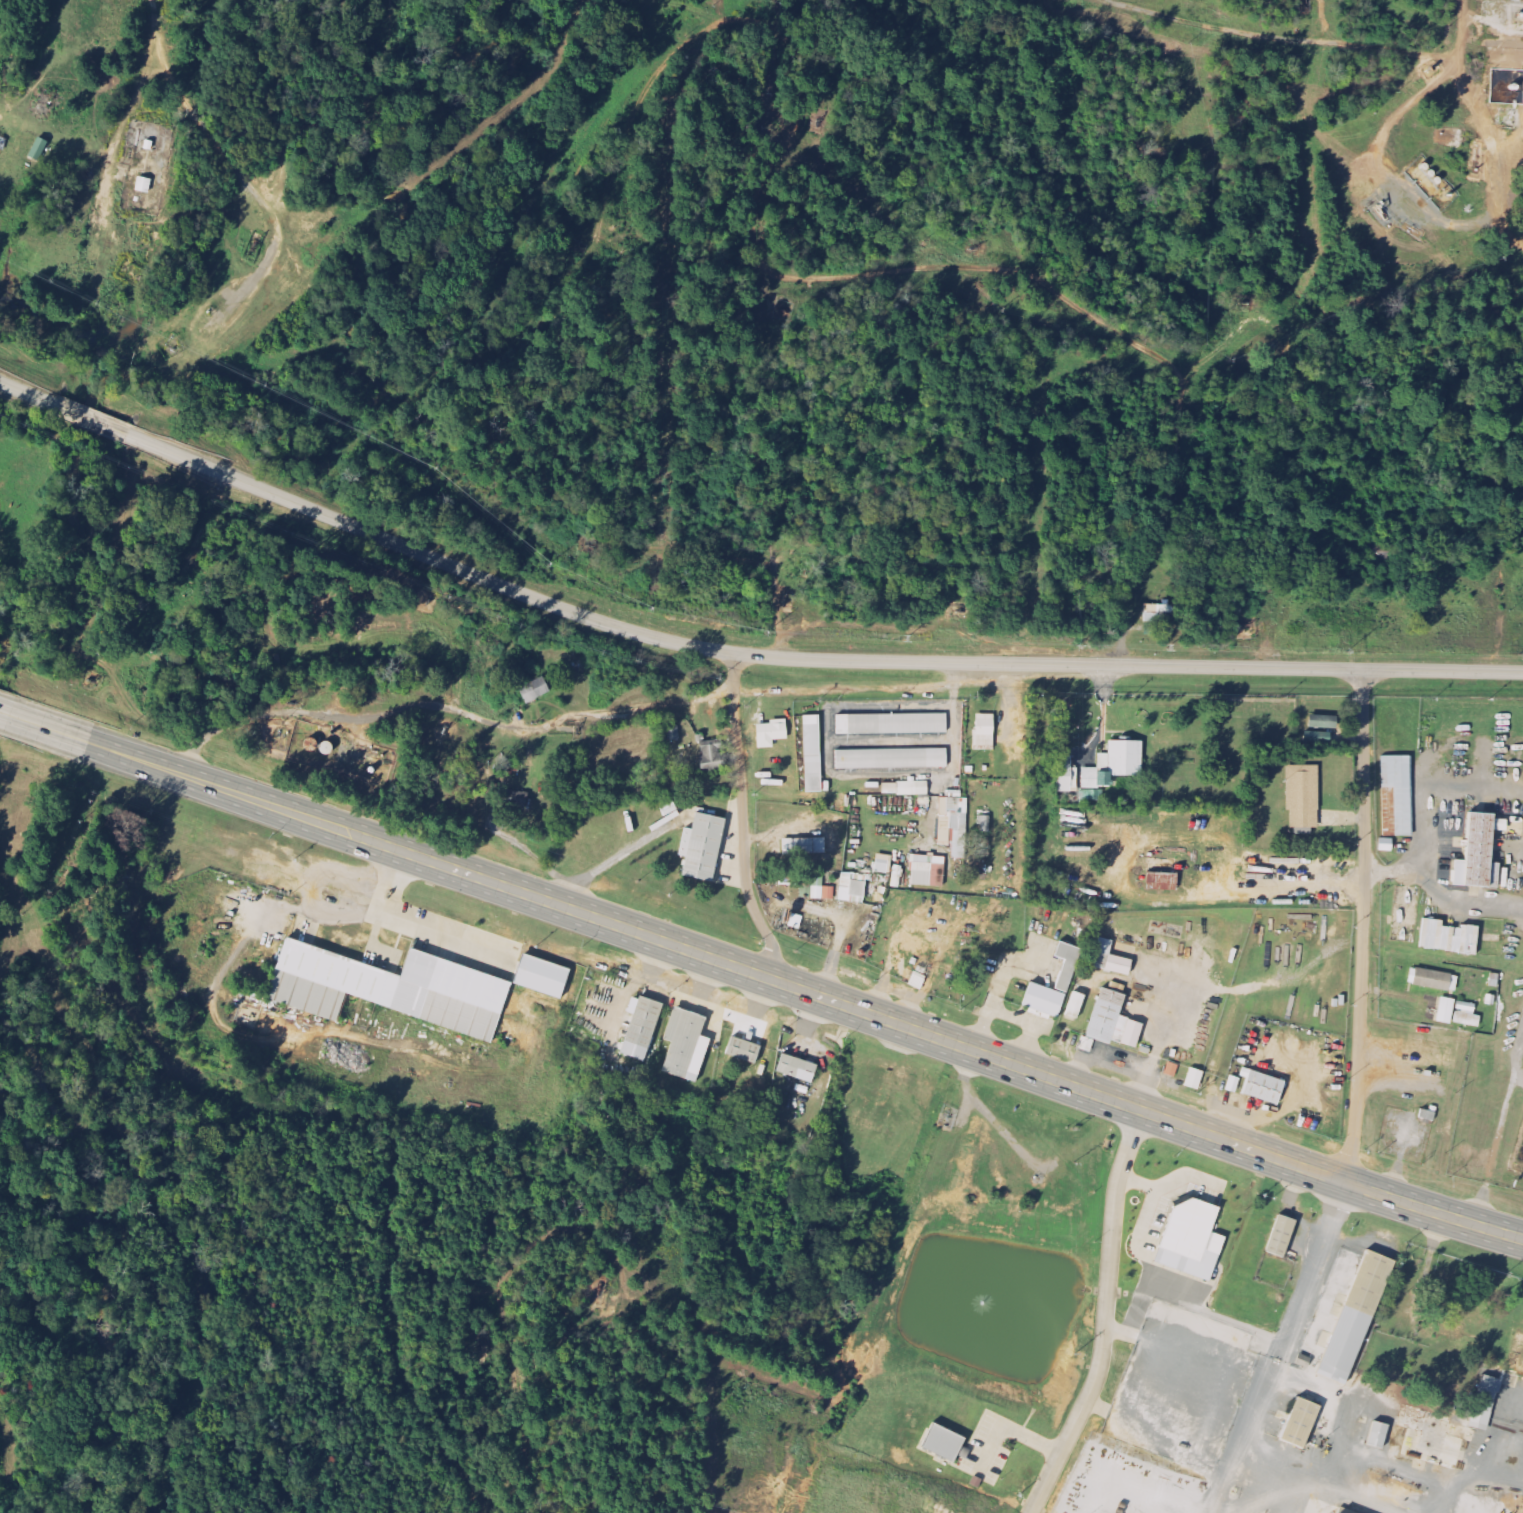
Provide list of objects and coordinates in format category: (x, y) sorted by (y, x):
road: (687, 8)
road: (1320, 21)
road: (1272, 39)
road: (1485, 125)
road: (232, 169)
building: (144, 186)
road: (837, 277)
power tower: (100, 303)
road: (1282, 331)
road: (35, 396)
road: (100, 422)
power tower: (442, 468)
road: (223, 473)
power tower: (554, 565)
power tower: (657, 610)
building: (1158, 616)
power tower: (779, 636)
power tower: (1090, 648)
power tower: (1350, 654)
road: (907, 662)
building: (536, 690)
road: (442, 706)
road: (5, 716)
building: (1324, 722)
building: (892, 724)
building: (985, 731)
building: (772, 733)
road: (1457, 744)
building: (814, 753)
building: (712, 754)
building: (893, 758)
building: (1116, 764)
building: (1064, 774)
road: (185, 777)
building: (906, 788)
building: (1396, 795)
building: (1304, 796)
building: (519, 798)
road: (742, 821)
building: (954, 825)
road: (1423, 839)
building: (805, 846)
building: (700, 847)
building: (1479, 851)
building: (884, 864)
building: (928, 871)
road: (1393, 873)
building: (1164, 874)
road: (1326, 881)
building: (816, 888)
building: (853, 888)
road: (1362, 927)
building: (1450, 937)
building: (1110, 958)
building: (1067, 970)
building: (543, 976)
road: (928, 979)
building: (1434, 980)
building: (402, 982)
building: (1077, 1005)
building: (1447, 1010)
building: (1467, 1014)
building: (1118, 1018)
building: (643, 1021)
road: (940, 1040)
building: (685, 1042)
building: (1087, 1044)
building: (744, 1049)
building: (797, 1067)
building: (1172, 1070)
building: (1234, 1084)
road: (1517, 1084)
building: (1264, 1086)
road: (1499, 1130)
building: (1192, 1222)
building: (1282, 1235)
building: (1370, 1283)
road: (1103, 1317)
road: (1284, 1349)
building: (1515, 1353)
building: (1488, 1390)
building: (1301, 1422)
road: (1003, 1428)
building: (1380, 1435)
building: (1434, 1436)
building: (945, 1443)
road: (1292, 1457)
road: (1350, 1498)

